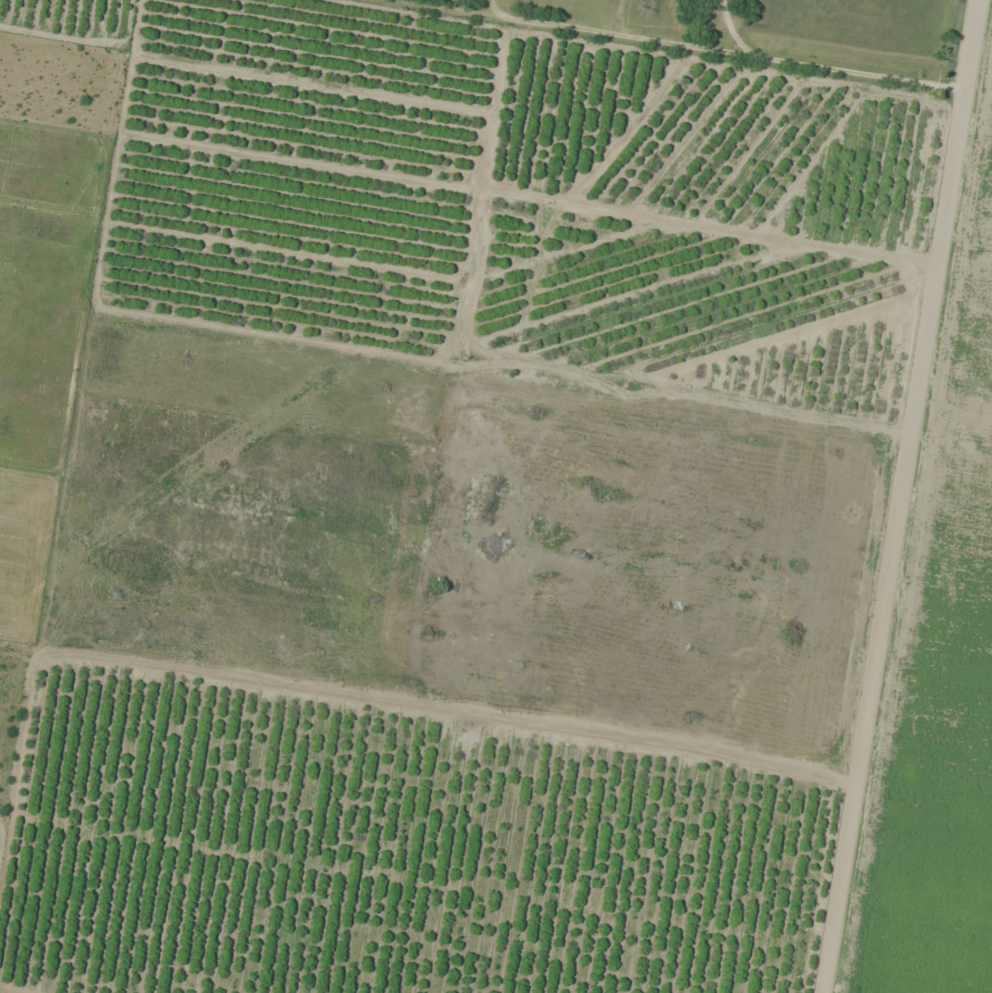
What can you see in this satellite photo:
road: (896, 496)

